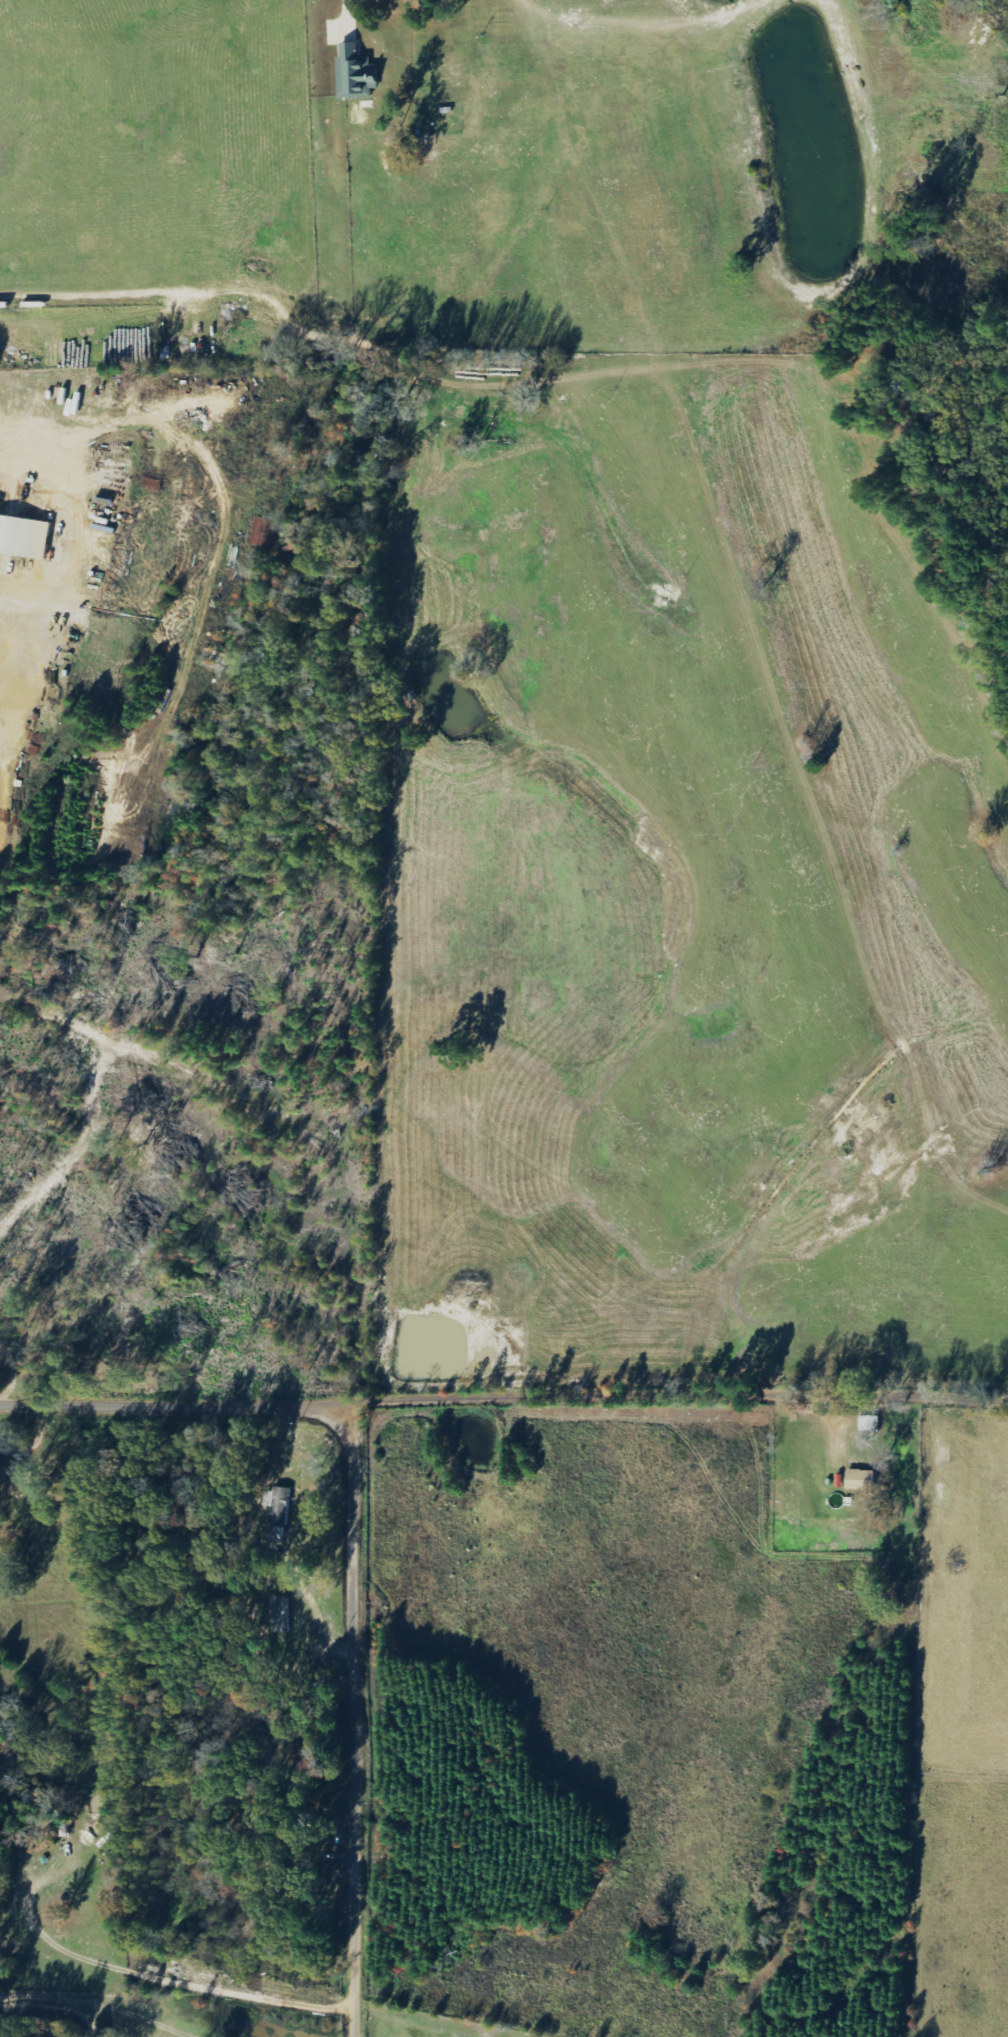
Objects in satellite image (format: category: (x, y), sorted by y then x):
building: (355, 73)
road: (82, 527)
building: (24, 535)
road: (677, 1399)
road: (172, 1403)
building: (13, 1478)
building: (860, 1479)
building: (277, 1504)
building: (276, 1614)
road: (348, 1720)

